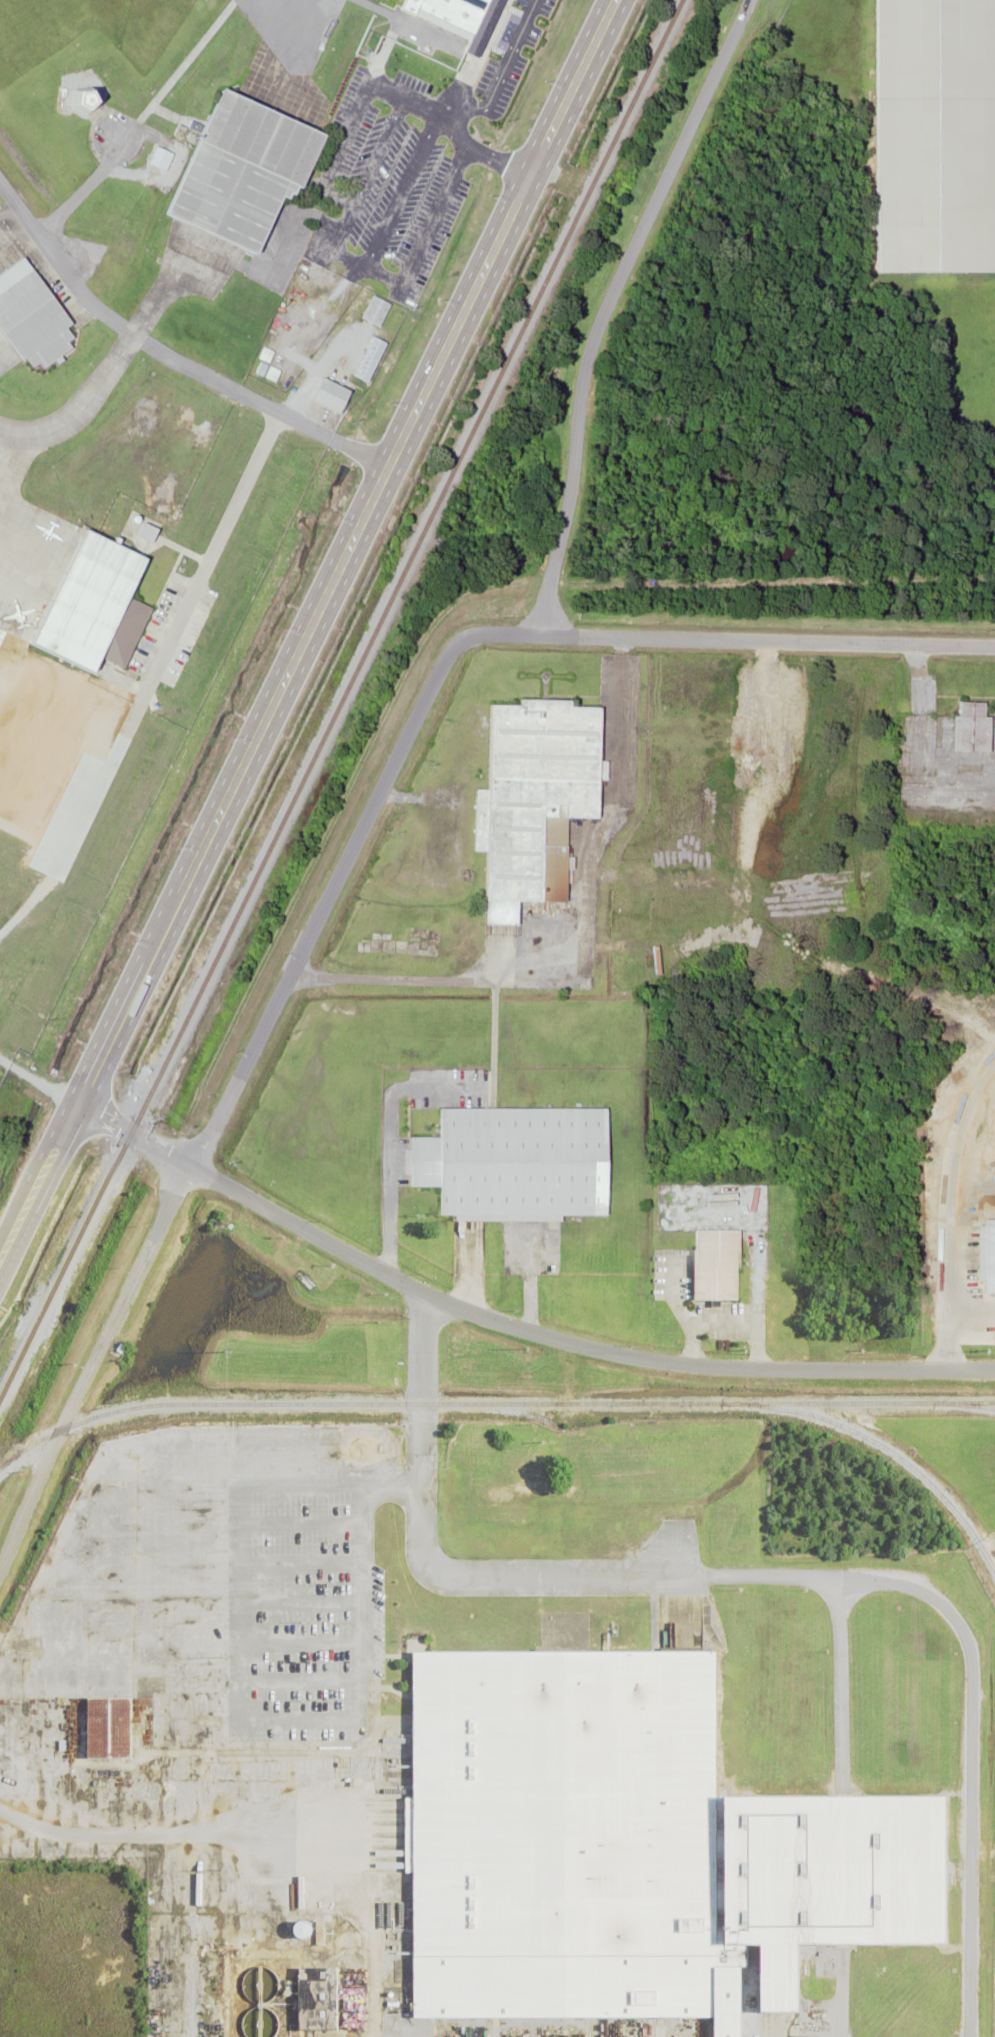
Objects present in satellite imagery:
airport terminal: (453, 20)
building: (453, 20)
road: (504, 67)
road: (455, 104)
building: (931, 135)
parking lot: (398, 157)
building: (231, 172)
road: (486, 259)
road: (78, 281)
building: (32, 318)
building: (366, 337)
airport: (192, 391)
building: (320, 394)
road: (283, 414)
building: (84, 598)
road: (724, 637)
railway: (340, 700)
building: (965, 726)
building: (526, 798)
road: (217, 810)
road: (321, 904)
road: (133, 1134)
building: (509, 1162)
road: (39, 1178)
building: (983, 1253)
road: (1, 1257)
building: (712, 1263)
road: (574, 1341)
road: (95, 1368)
railway: (490, 1403)
railway: (976, 1404)
railway: (888, 1449)
building: (105, 1727)
building: (629, 1848)
building: (300, 2003)

